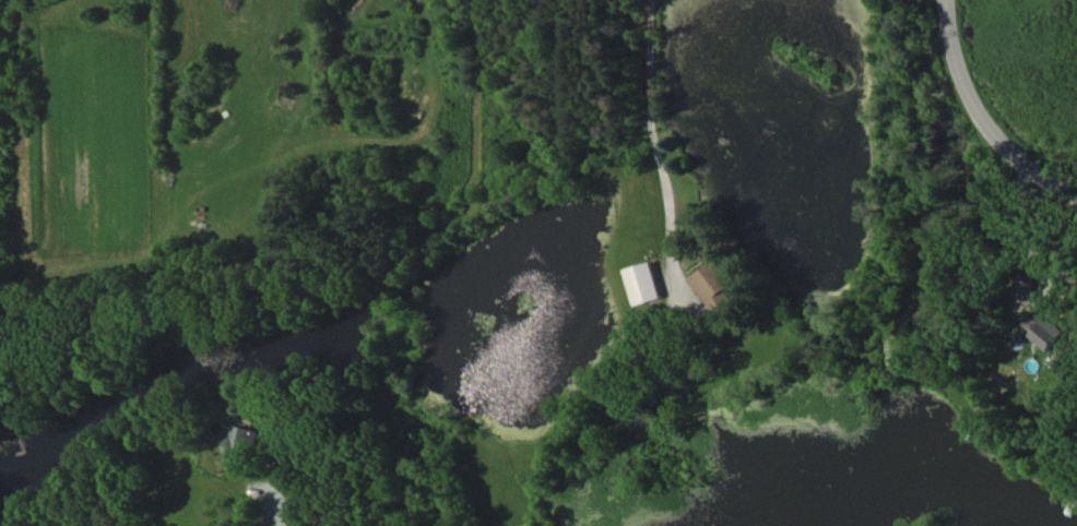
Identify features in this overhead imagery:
road: (983, 112)
road: (652, 122)
road: (1011, 224)
building: (643, 283)
building: (713, 283)
building: (1025, 288)
building: (1045, 330)
building: (240, 445)
road: (282, 509)

